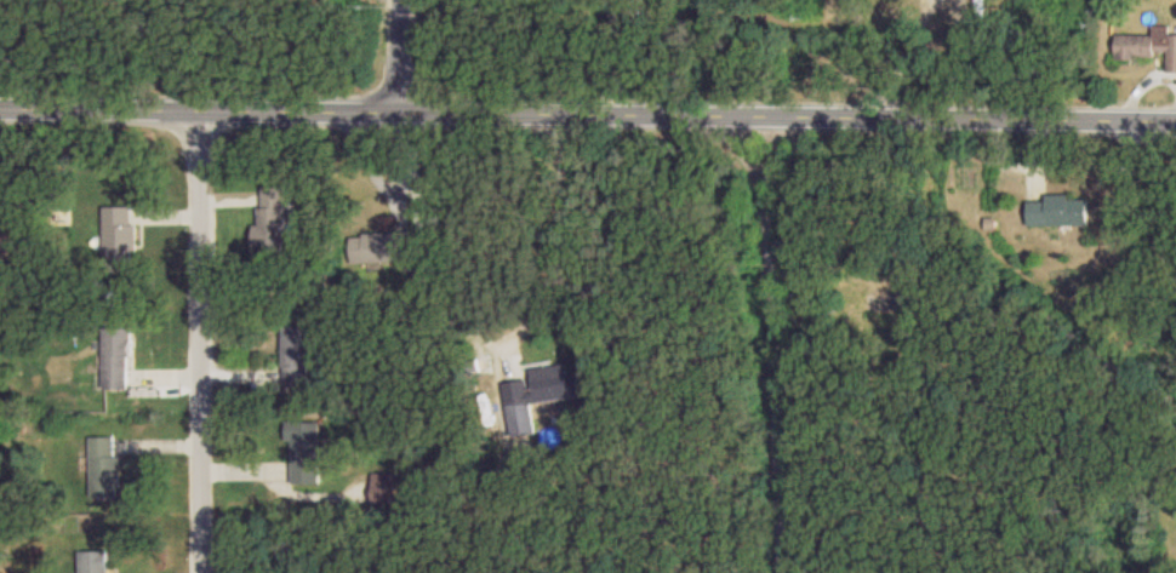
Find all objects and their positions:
road: (914, 28)
road: (941, 38)
building: (1149, 44)
road: (234, 55)
road: (395, 55)
road: (617, 55)
road: (886, 86)
road: (588, 111)
road: (1144, 165)
building: (1060, 210)
building: (273, 217)
building: (120, 237)
road: (559, 237)
building: (15, 239)
building: (382, 245)
road: (201, 342)
road: (770, 343)
building: (296, 354)
building: (119, 356)
building: (556, 383)
building: (307, 452)
building: (107, 465)
building: (93, 561)

